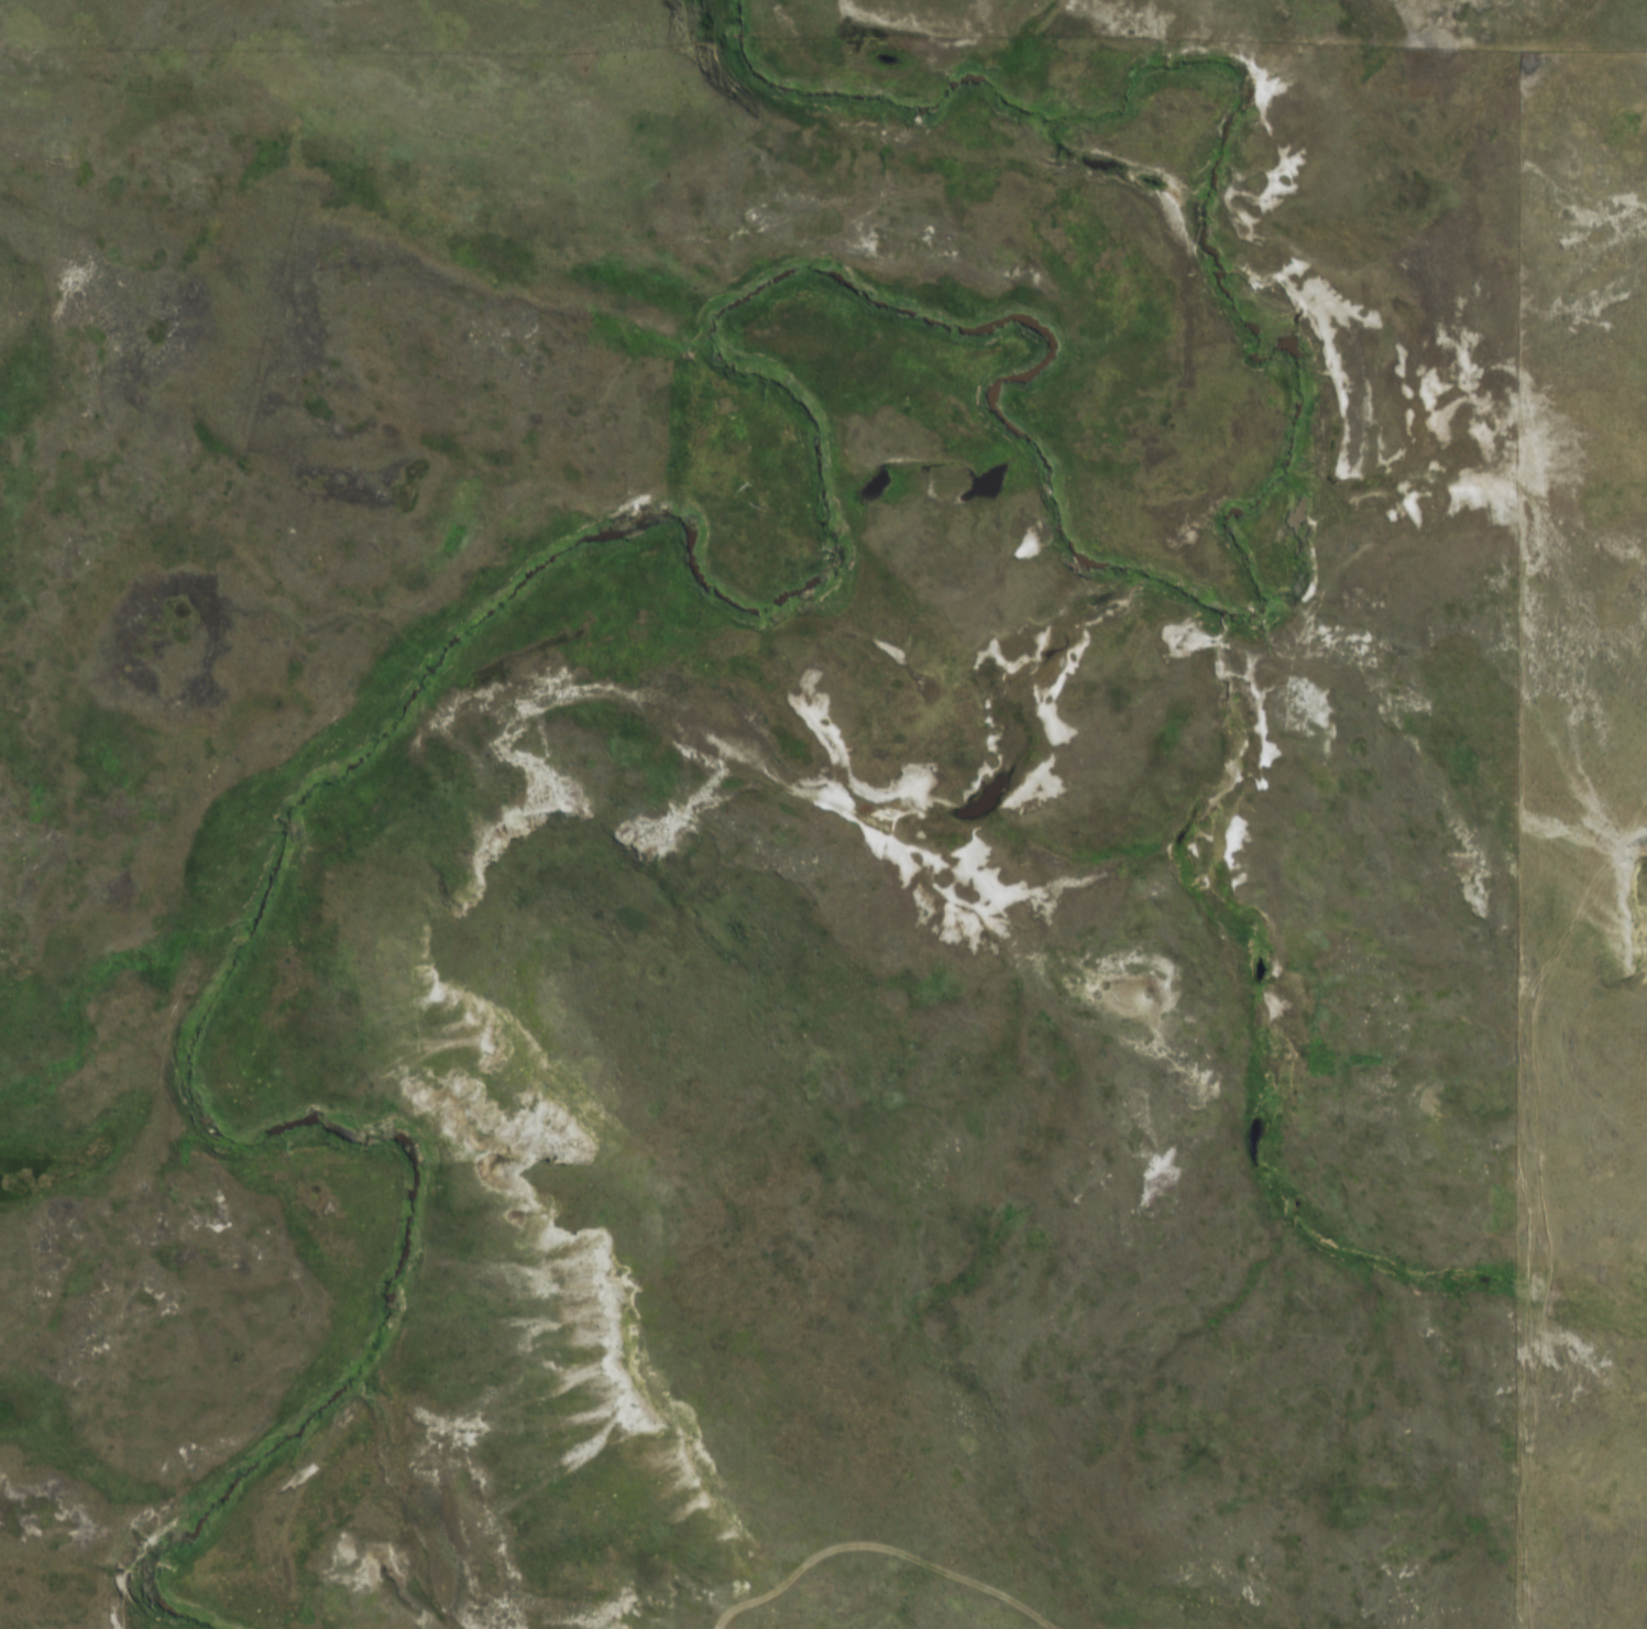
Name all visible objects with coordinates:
road: (886, 1542)

